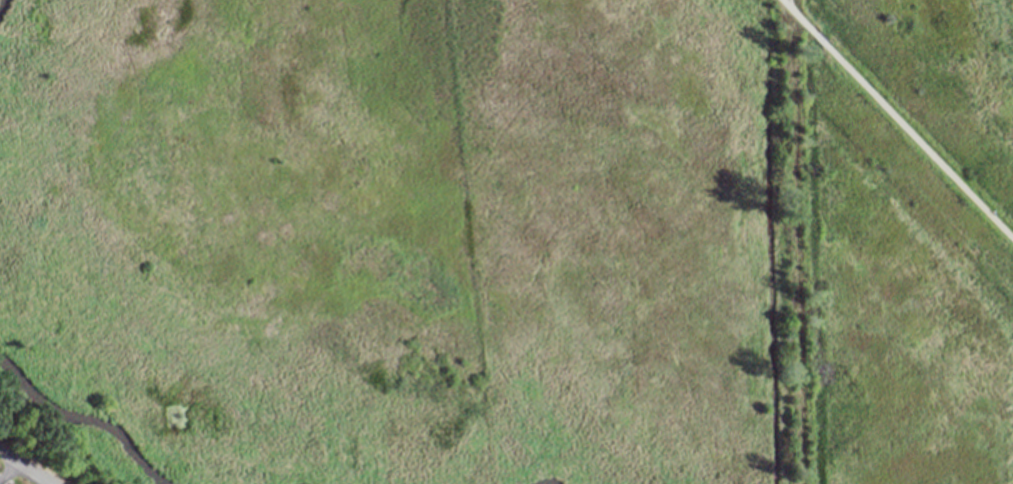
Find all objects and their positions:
road: (796, 16)
road: (817, 38)
park: (947, 65)
road: (917, 143)
road: (796, 241)
road: (6, 468)
road: (24, 468)

